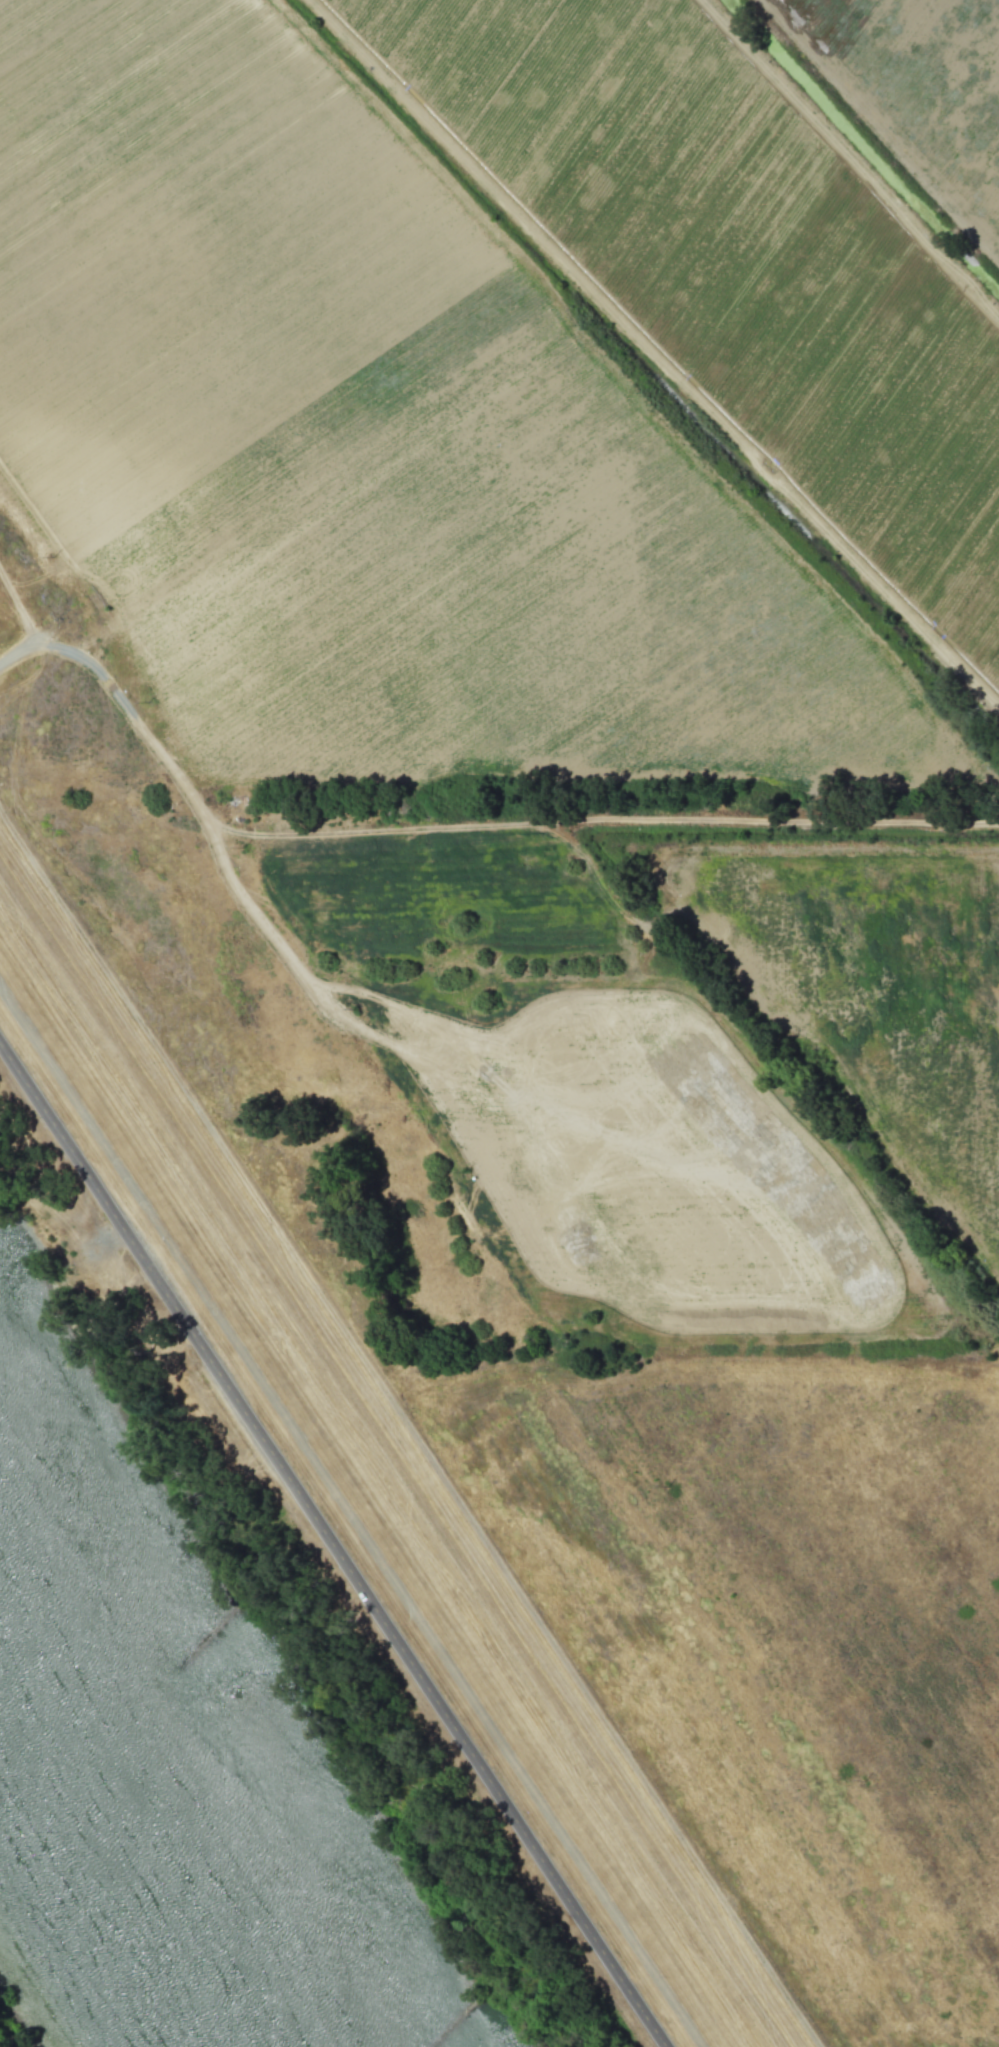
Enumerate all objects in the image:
crop: (918, 91)
road: (299, 831)
road: (333, 1543)
river: (154, 1792)

